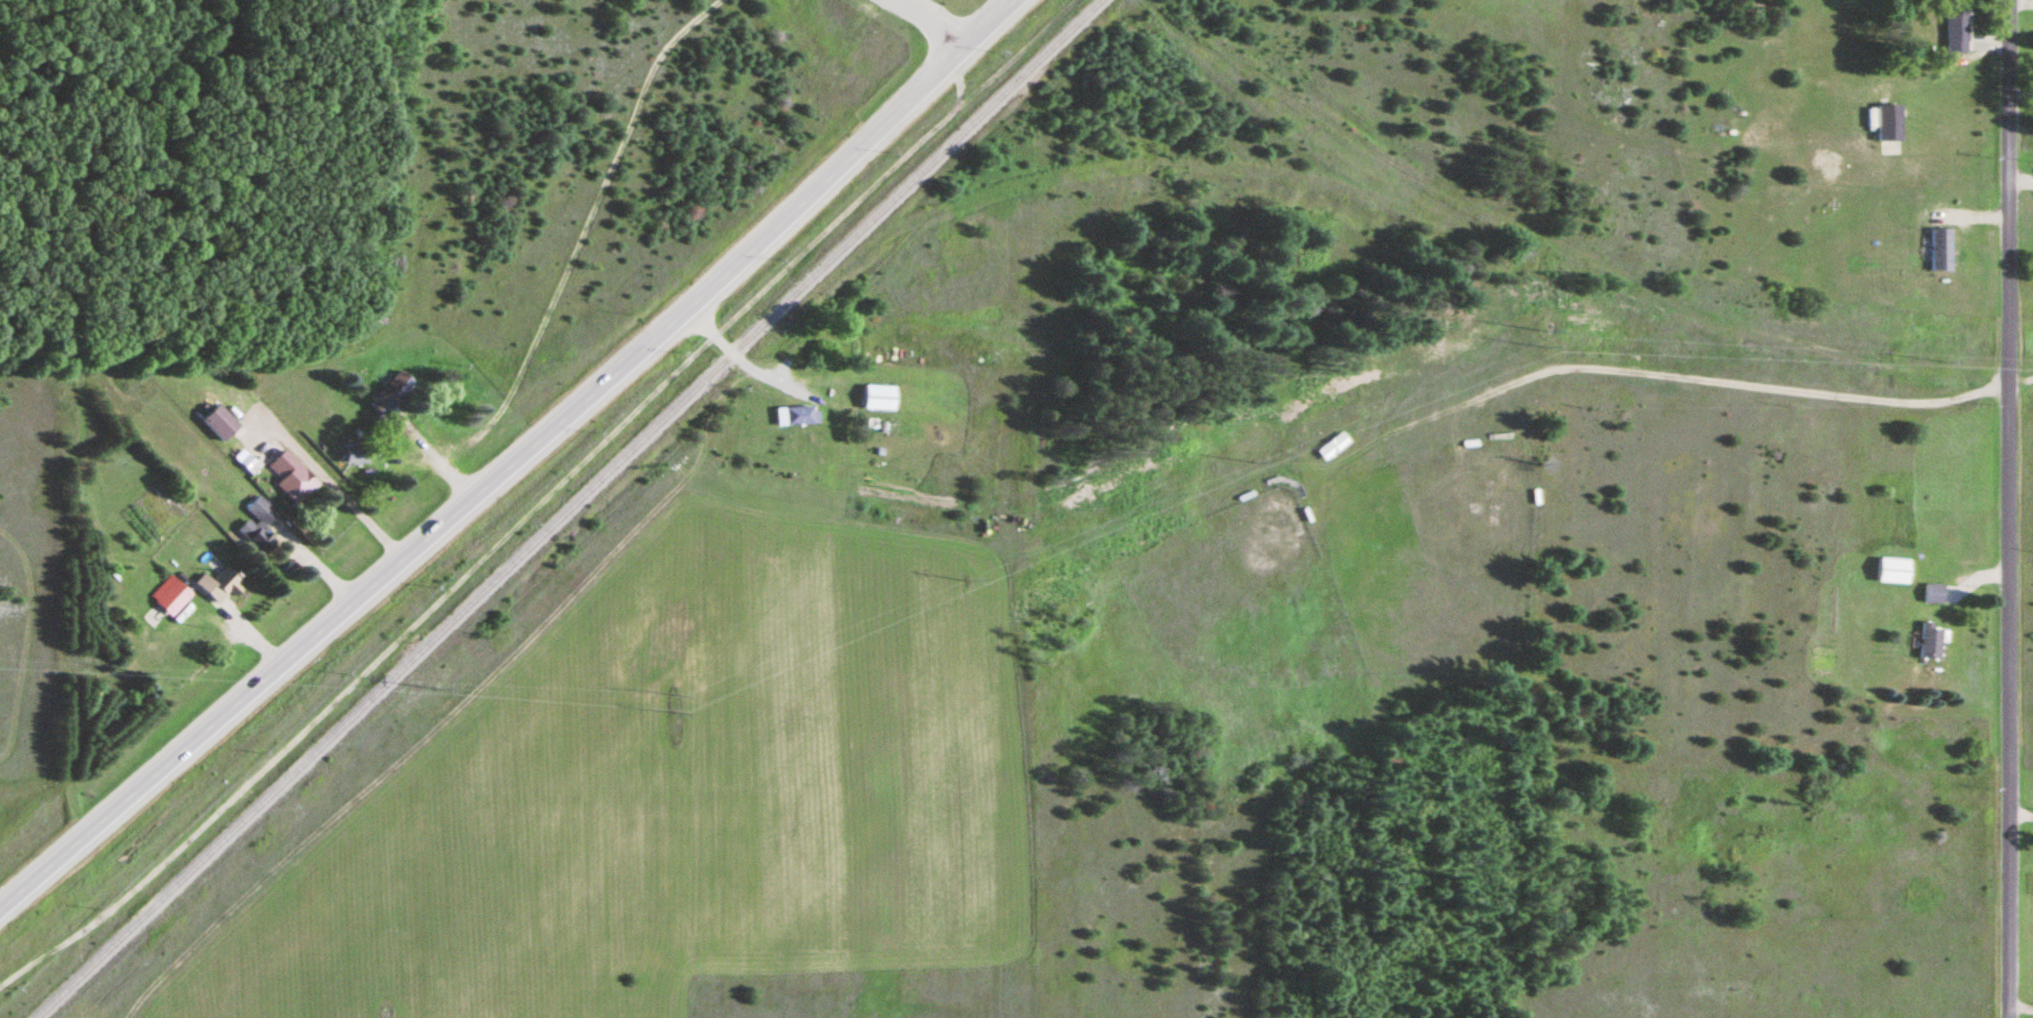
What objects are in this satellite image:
road: (933, 21)
building: (1955, 31)
building: (1887, 122)
building: (1938, 250)
road: (742, 364)
road: (1698, 379)
building: (391, 394)
building: (878, 396)
building: (795, 414)
building: (218, 424)
building: (1331, 447)
building: (354, 456)
road: (512, 461)
building: (290, 477)
road: (536, 498)
road: (2005, 508)
railway: (568, 509)
building: (256, 526)
building: (1891, 570)
road: (1973, 578)
building: (219, 584)
building: (1932, 592)
building: (169, 596)
park: (1240, 598)
building: (1927, 641)
road: (2019, 818)
road: (2019, 1008)

